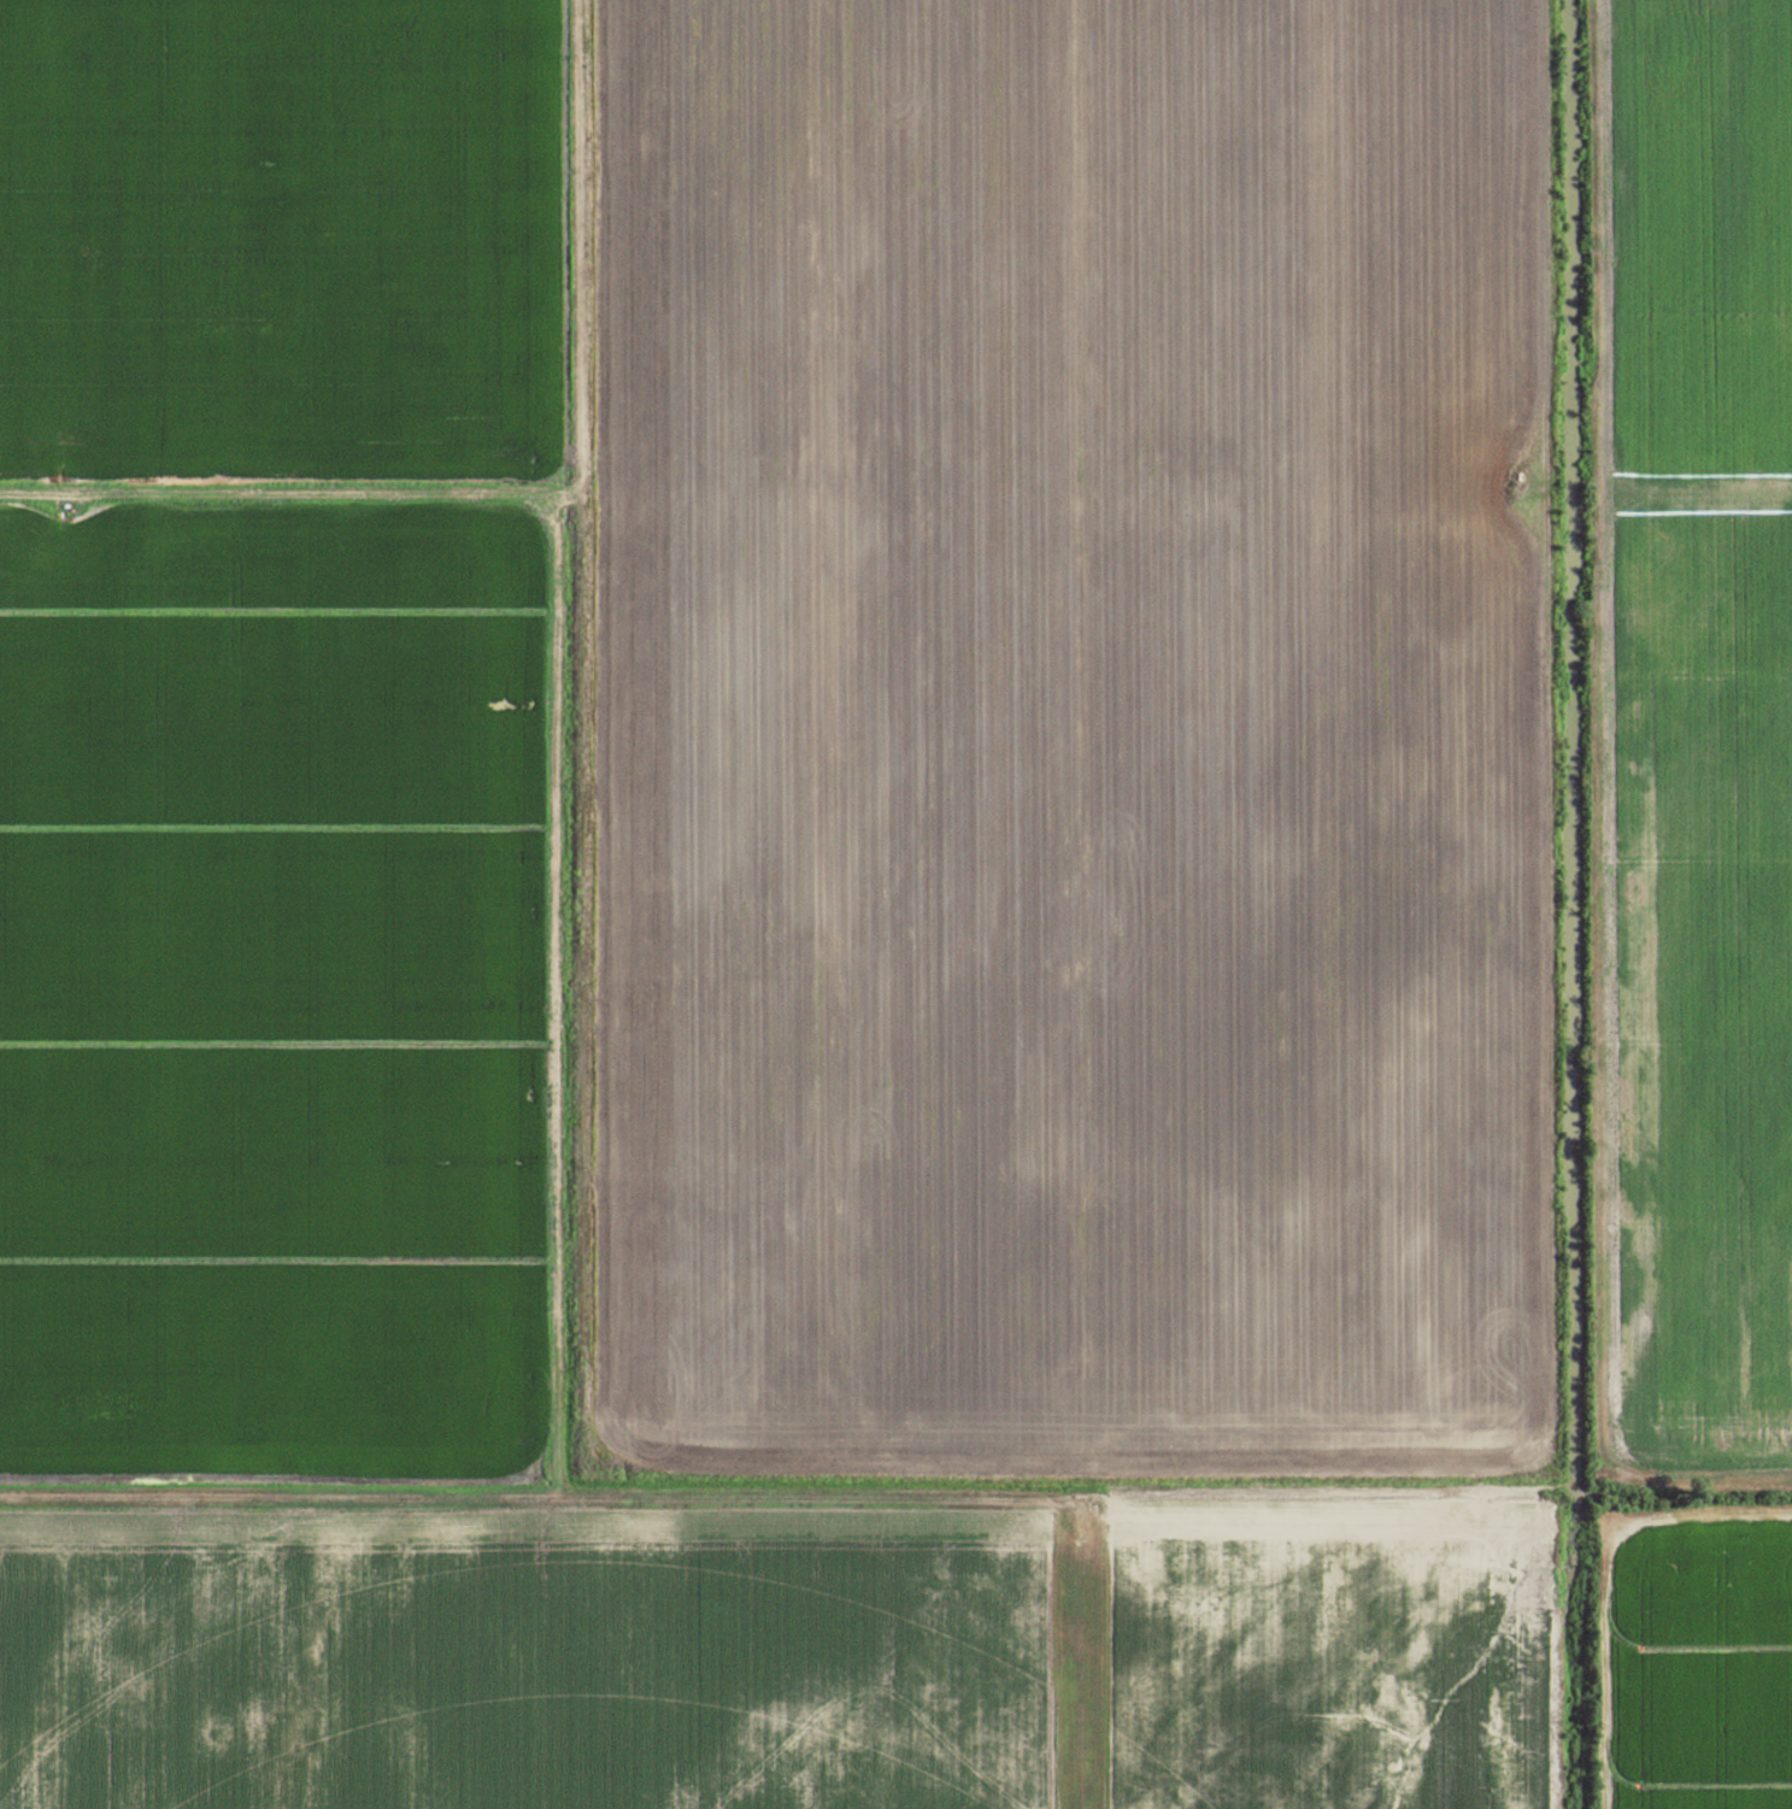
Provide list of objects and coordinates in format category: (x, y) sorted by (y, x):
airport runway: (1074, 1656)

